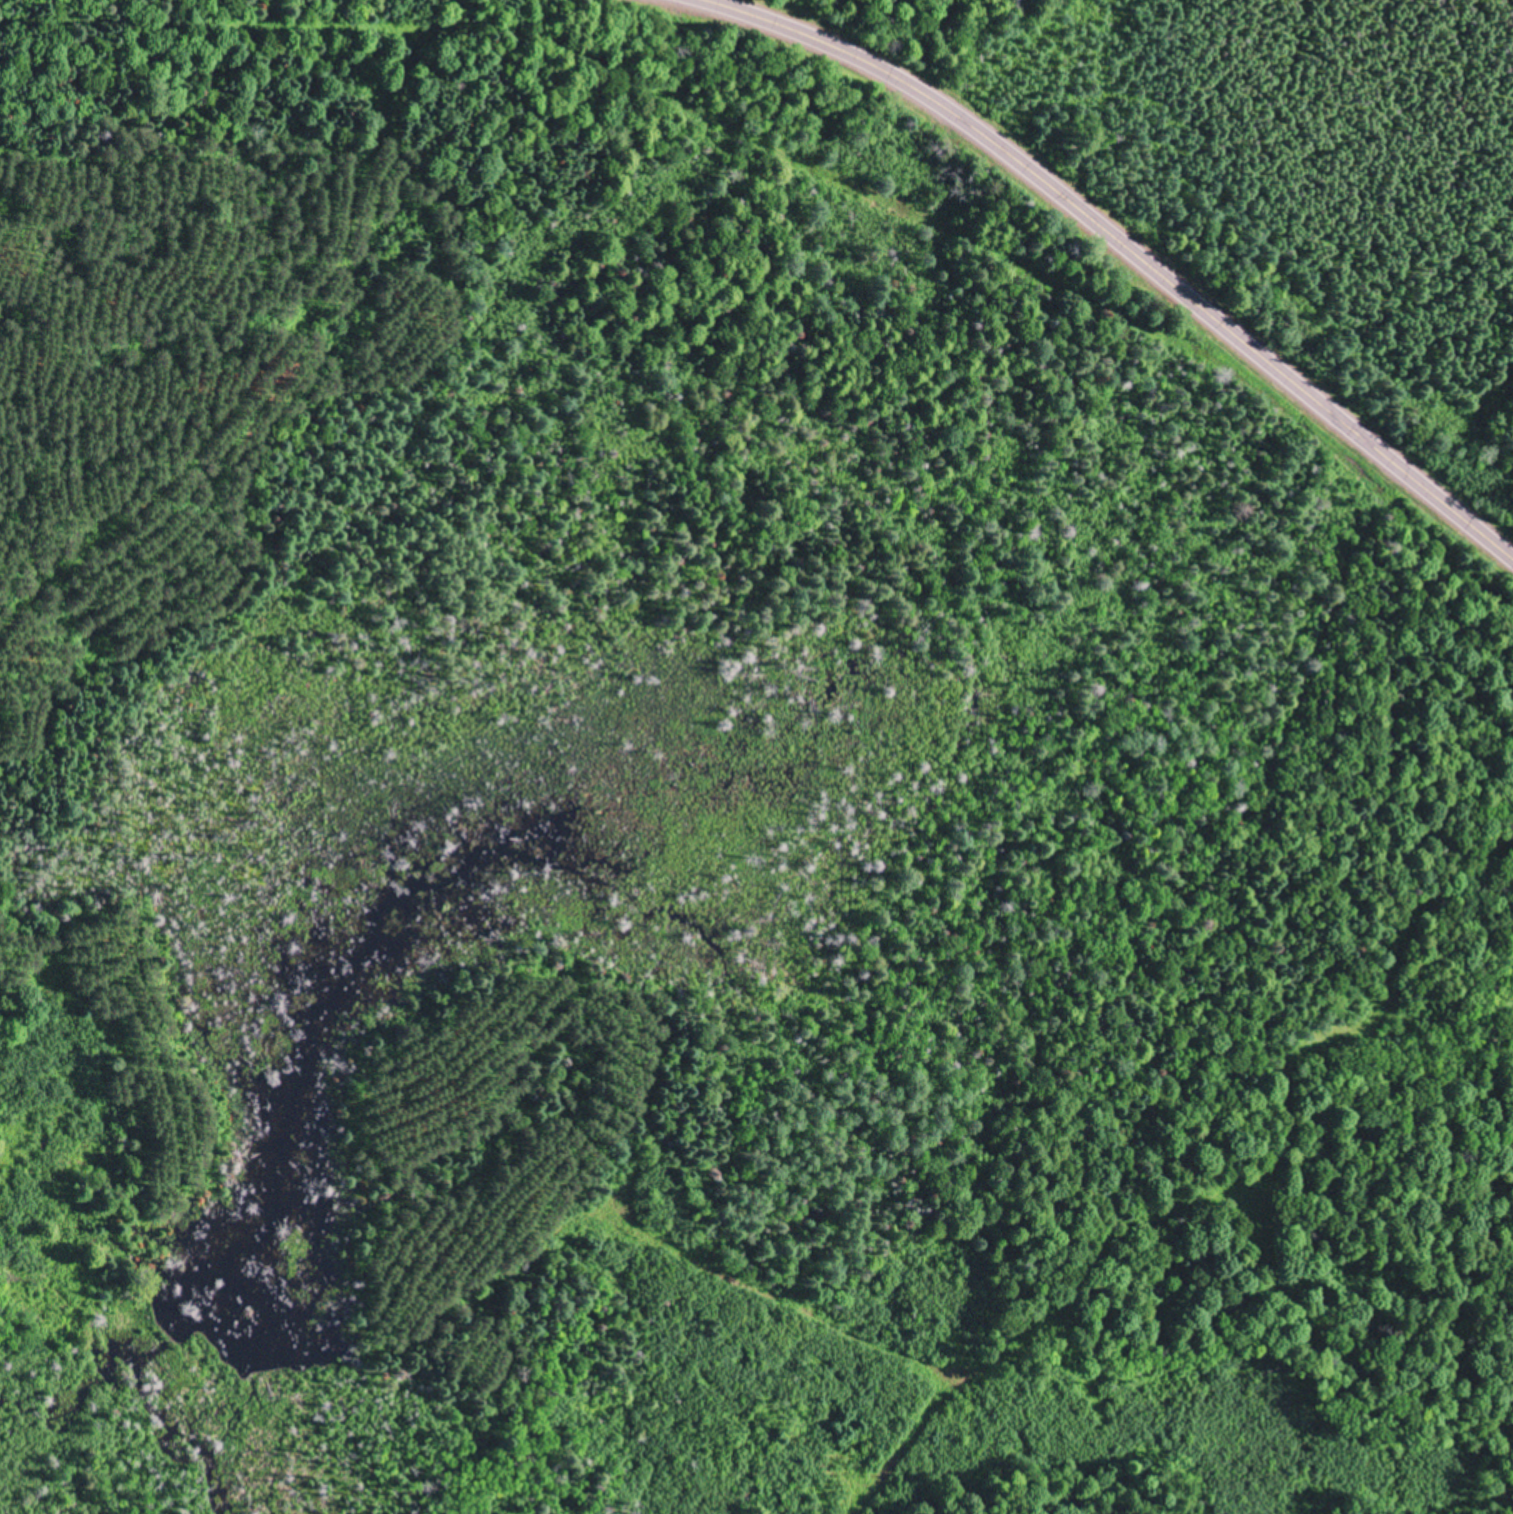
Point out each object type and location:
road: (1123, 244)

